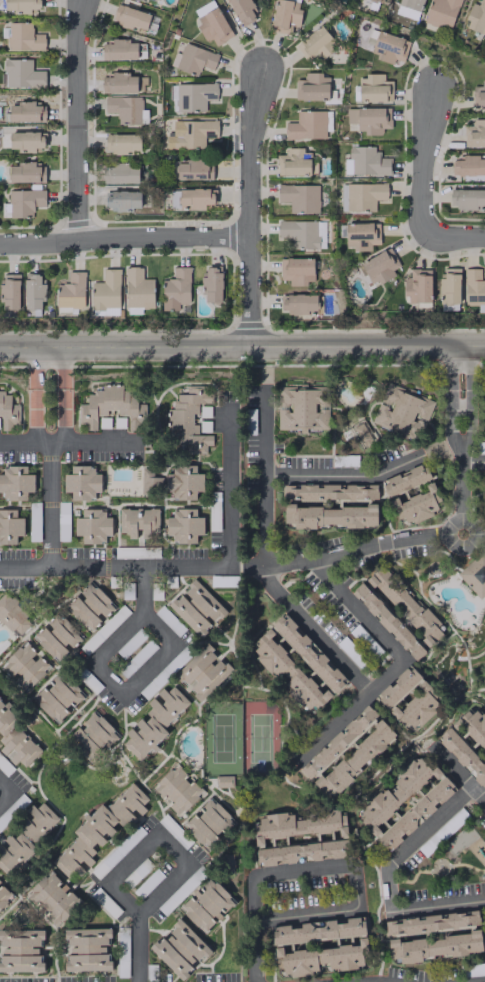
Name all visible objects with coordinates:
building: (153, 0)
building: (377, 1)
building: (22, 5)
building: (408, 8)
building: (242, 10)
building: (441, 13)
building: (285, 15)
building: (131, 17)
building: (476, 17)
building: (212, 23)
building: (22, 36)
building: (315, 44)
building: (389, 47)
building: (119, 49)
building: (195, 58)
building: (22, 74)
building: (120, 83)
building: (312, 87)
building: (374, 88)
building: (194, 96)
building: (478, 96)
building: (126, 109)
building: (25, 112)
building: (369, 119)
road: (75, 120)
building: (306, 125)
building: (474, 134)
building: (26, 140)
building: (122, 143)
road: (423, 156)
building: (368, 161)
building: (293, 162)
building: (467, 165)
building: (189, 169)
building: (23, 172)
building: (120, 173)
building: (364, 195)
building: (195, 197)
building: (299, 197)
building: (468, 198)
building: (122, 199)
building: (24, 202)
road: (248, 205)
building: (303, 233)
building: (362, 235)
road: (123, 236)
road: (453, 236)
building: (378, 267)
building: (296, 270)
building: (211, 284)
building: (418, 286)
building: (175, 288)
building: (138, 289)
building: (474, 289)
building: (106, 290)
building: (33, 291)
building: (71, 291)
building: (9, 292)
building: (299, 303)
road: (242, 346)
road: (34, 396)
road: (64, 396)
road: (467, 396)
road: (450, 397)
building: (110, 406)
building: (303, 408)
building: (7, 411)
building: (204, 411)
building: (402, 411)
building: (484, 418)
building: (187, 421)
building: (361, 433)
road: (68, 444)
road: (472, 461)
road: (264, 473)
road: (346, 475)
building: (405, 480)
building: (148, 481)
building: (184, 481)
road: (229, 481)
road: (460, 482)
building: (15, 483)
building: (82, 483)
building: (370, 504)
building: (417, 505)
road: (50, 506)
building: (138, 521)
building: (92, 525)
building: (184, 525)
building: (10, 527)
road: (479, 535)
road: (461, 546)
road: (355, 548)
road: (113, 567)
building: (474, 574)
road: (141, 590)
building: (202, 601)
building: (405, 604)
building: (89, 606)
road: (355, 609)
building: (12, 614)
building: (188, 614)
building: (387, 620)
building: (63, 631)
road: (311, 631)
building: (49, 644)
building: (307, 652)
building: (24, 666)
building: (286, 671)
building: (202, 672)
road: (125, 691)
building: (57, 696)
building: (408, 698)
road: (348, 710)
building: (154, 722)
building: (471, 725)
building: (93, 736)
park: (222, 738)
park: (260, 738)
building: (16, 740)
building: (347, 751)
building: (463, 755)
road: (458, 774)
building: (223, 781)
building: (176, 789)
road: (6, 792)
building: (396, 793)
building: (415, 813)
building: (208, 822)
road: (428, 827)
building: (98, 830)
building: (300, 837)
building: (27, 838)
road: (302, 869)
road: (354, 886)
road: (387, 888)
building: (4, 895)
building: (52, 898)
building: (206, 904)
road: (437, 905)
road: (136, 913)
road: (304, 914)
building: (431, 923)
road: (253, 928)
building: (355, 946)
road: (136, 947)
building: (433, 947)
building: (179, 948)
building: (86, 949)
building: (20, 950)

